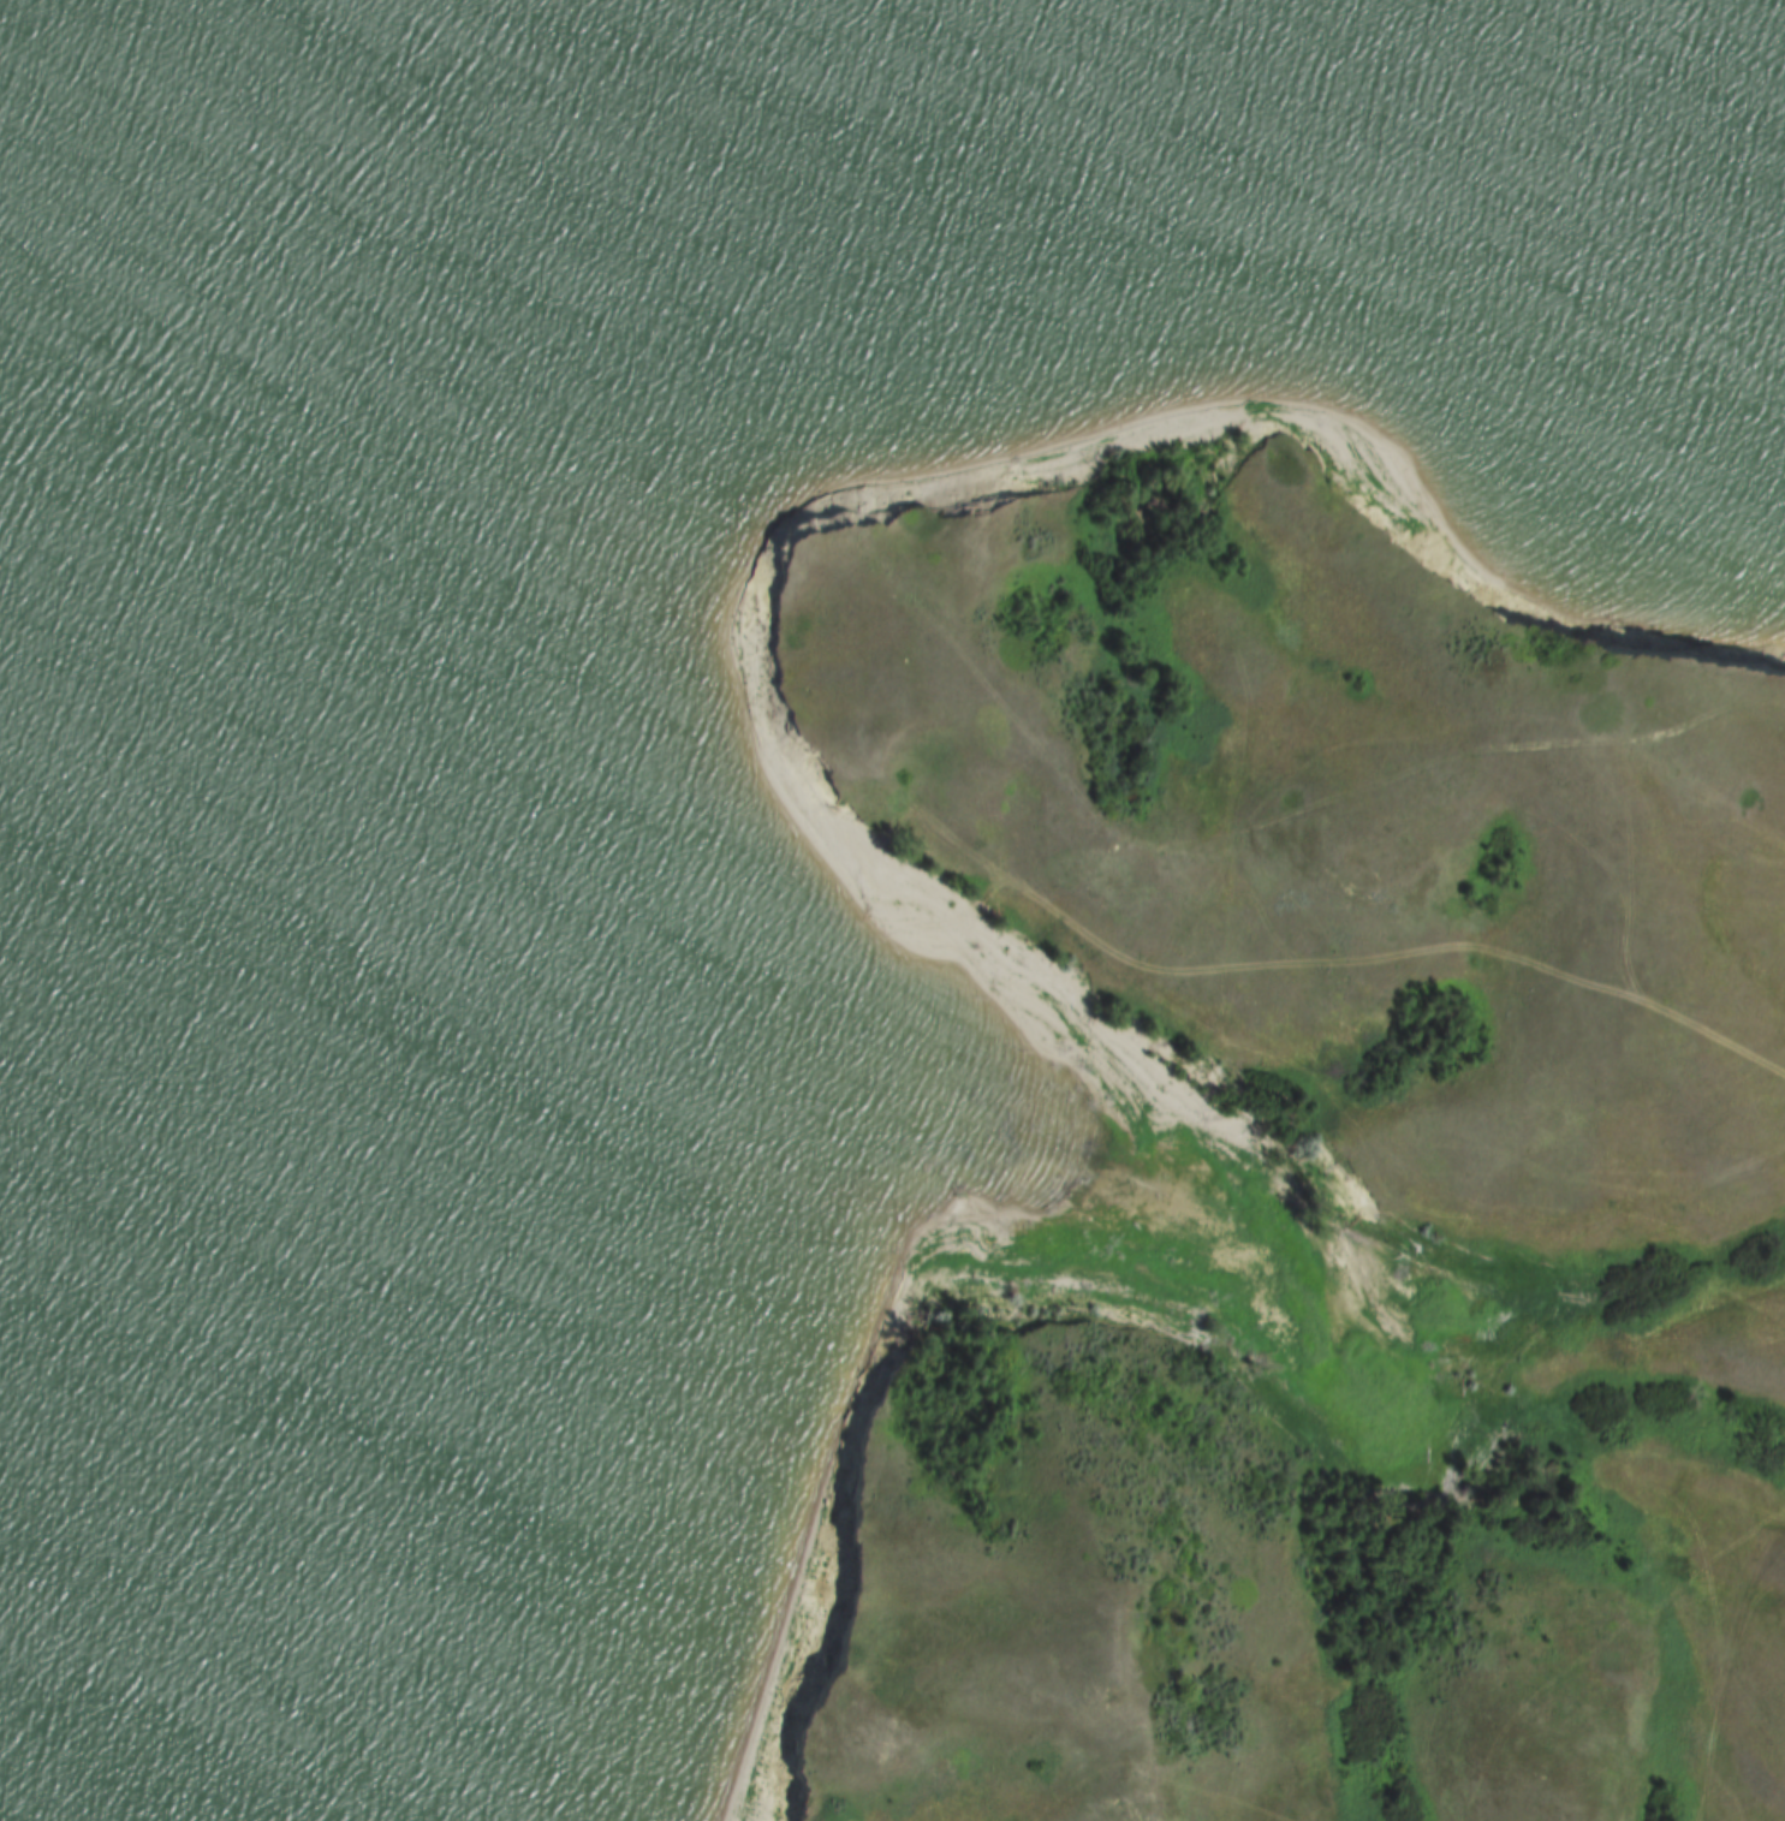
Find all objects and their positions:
road: (1719, 1653)

